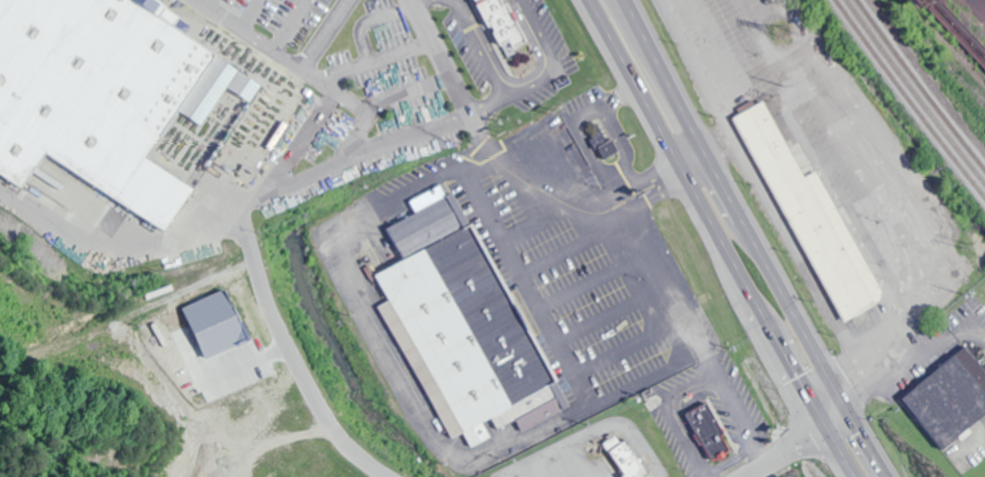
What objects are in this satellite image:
parking lot: (290, 18)
building: (492, 20)
railway: (939, 52)
building: (524, 62)
road: (454, 76)
railway: (926, 77)
railway: (920, 85)
railway: (914, 92)
building: (105, 94)
railway: (908, 99)
building: (598, 144)
building: (812, 221)
road: (718, 240)
road: (751, 240)
building: (461, 326)
road: (289, 351)
building: (949, 397)
building: (707, 432)
road: (793, 443)
building: (625, 458)

